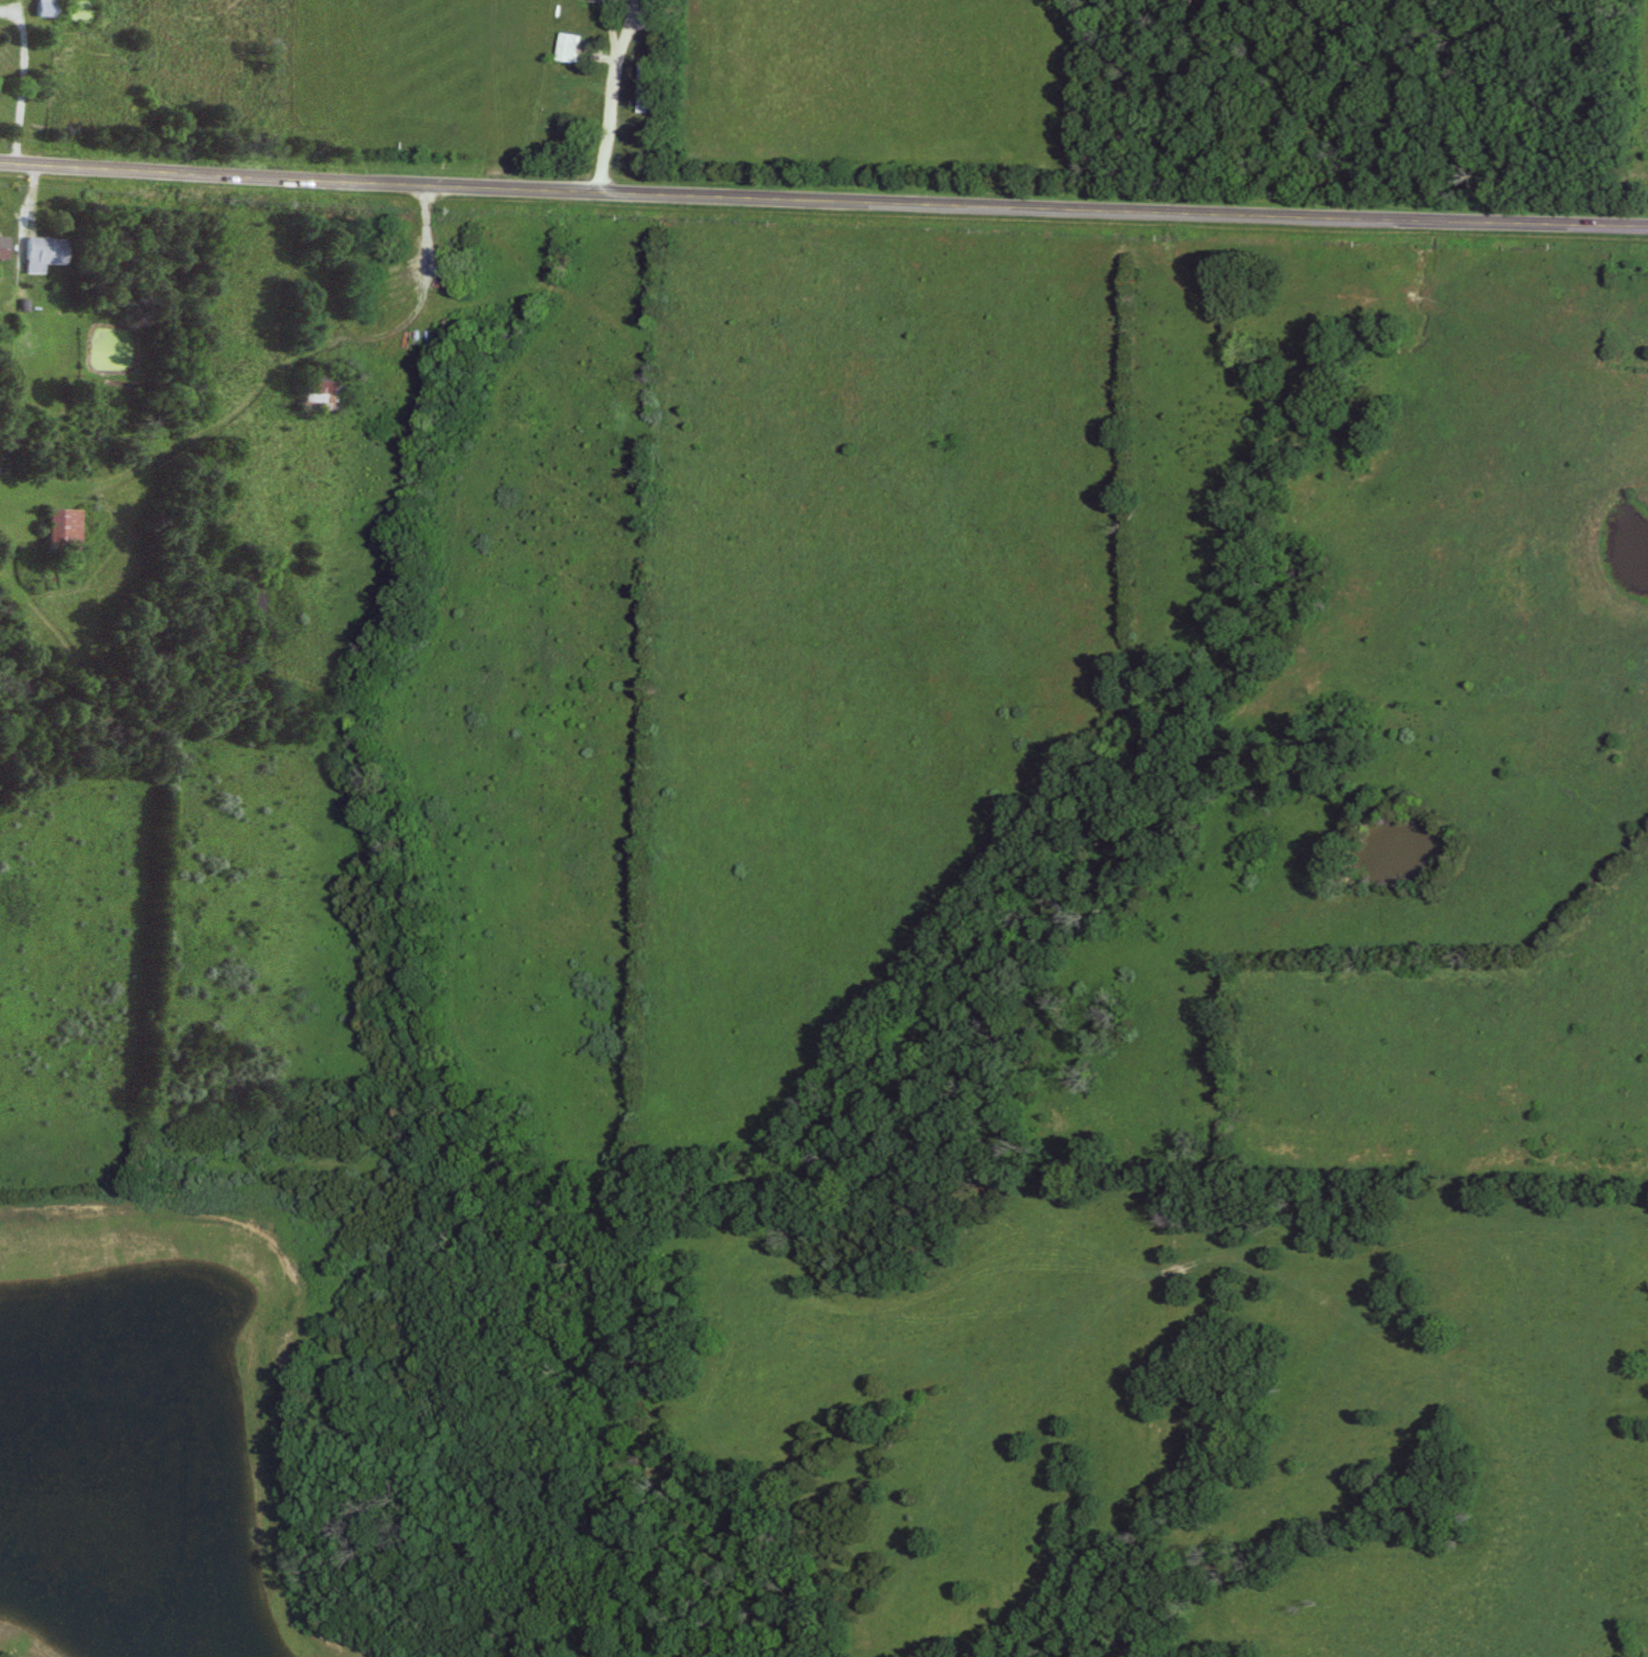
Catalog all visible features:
building: (43, 8)
building: (563, 49)
road: (25, 82)
building: (639, 88)
road: (606, 97)
building: (553, 115)
road: (823, 205)
building: (0, 247)
building: (41, 255)
road: (423, 299)
building: (313, 389)
building: (58, 531)

